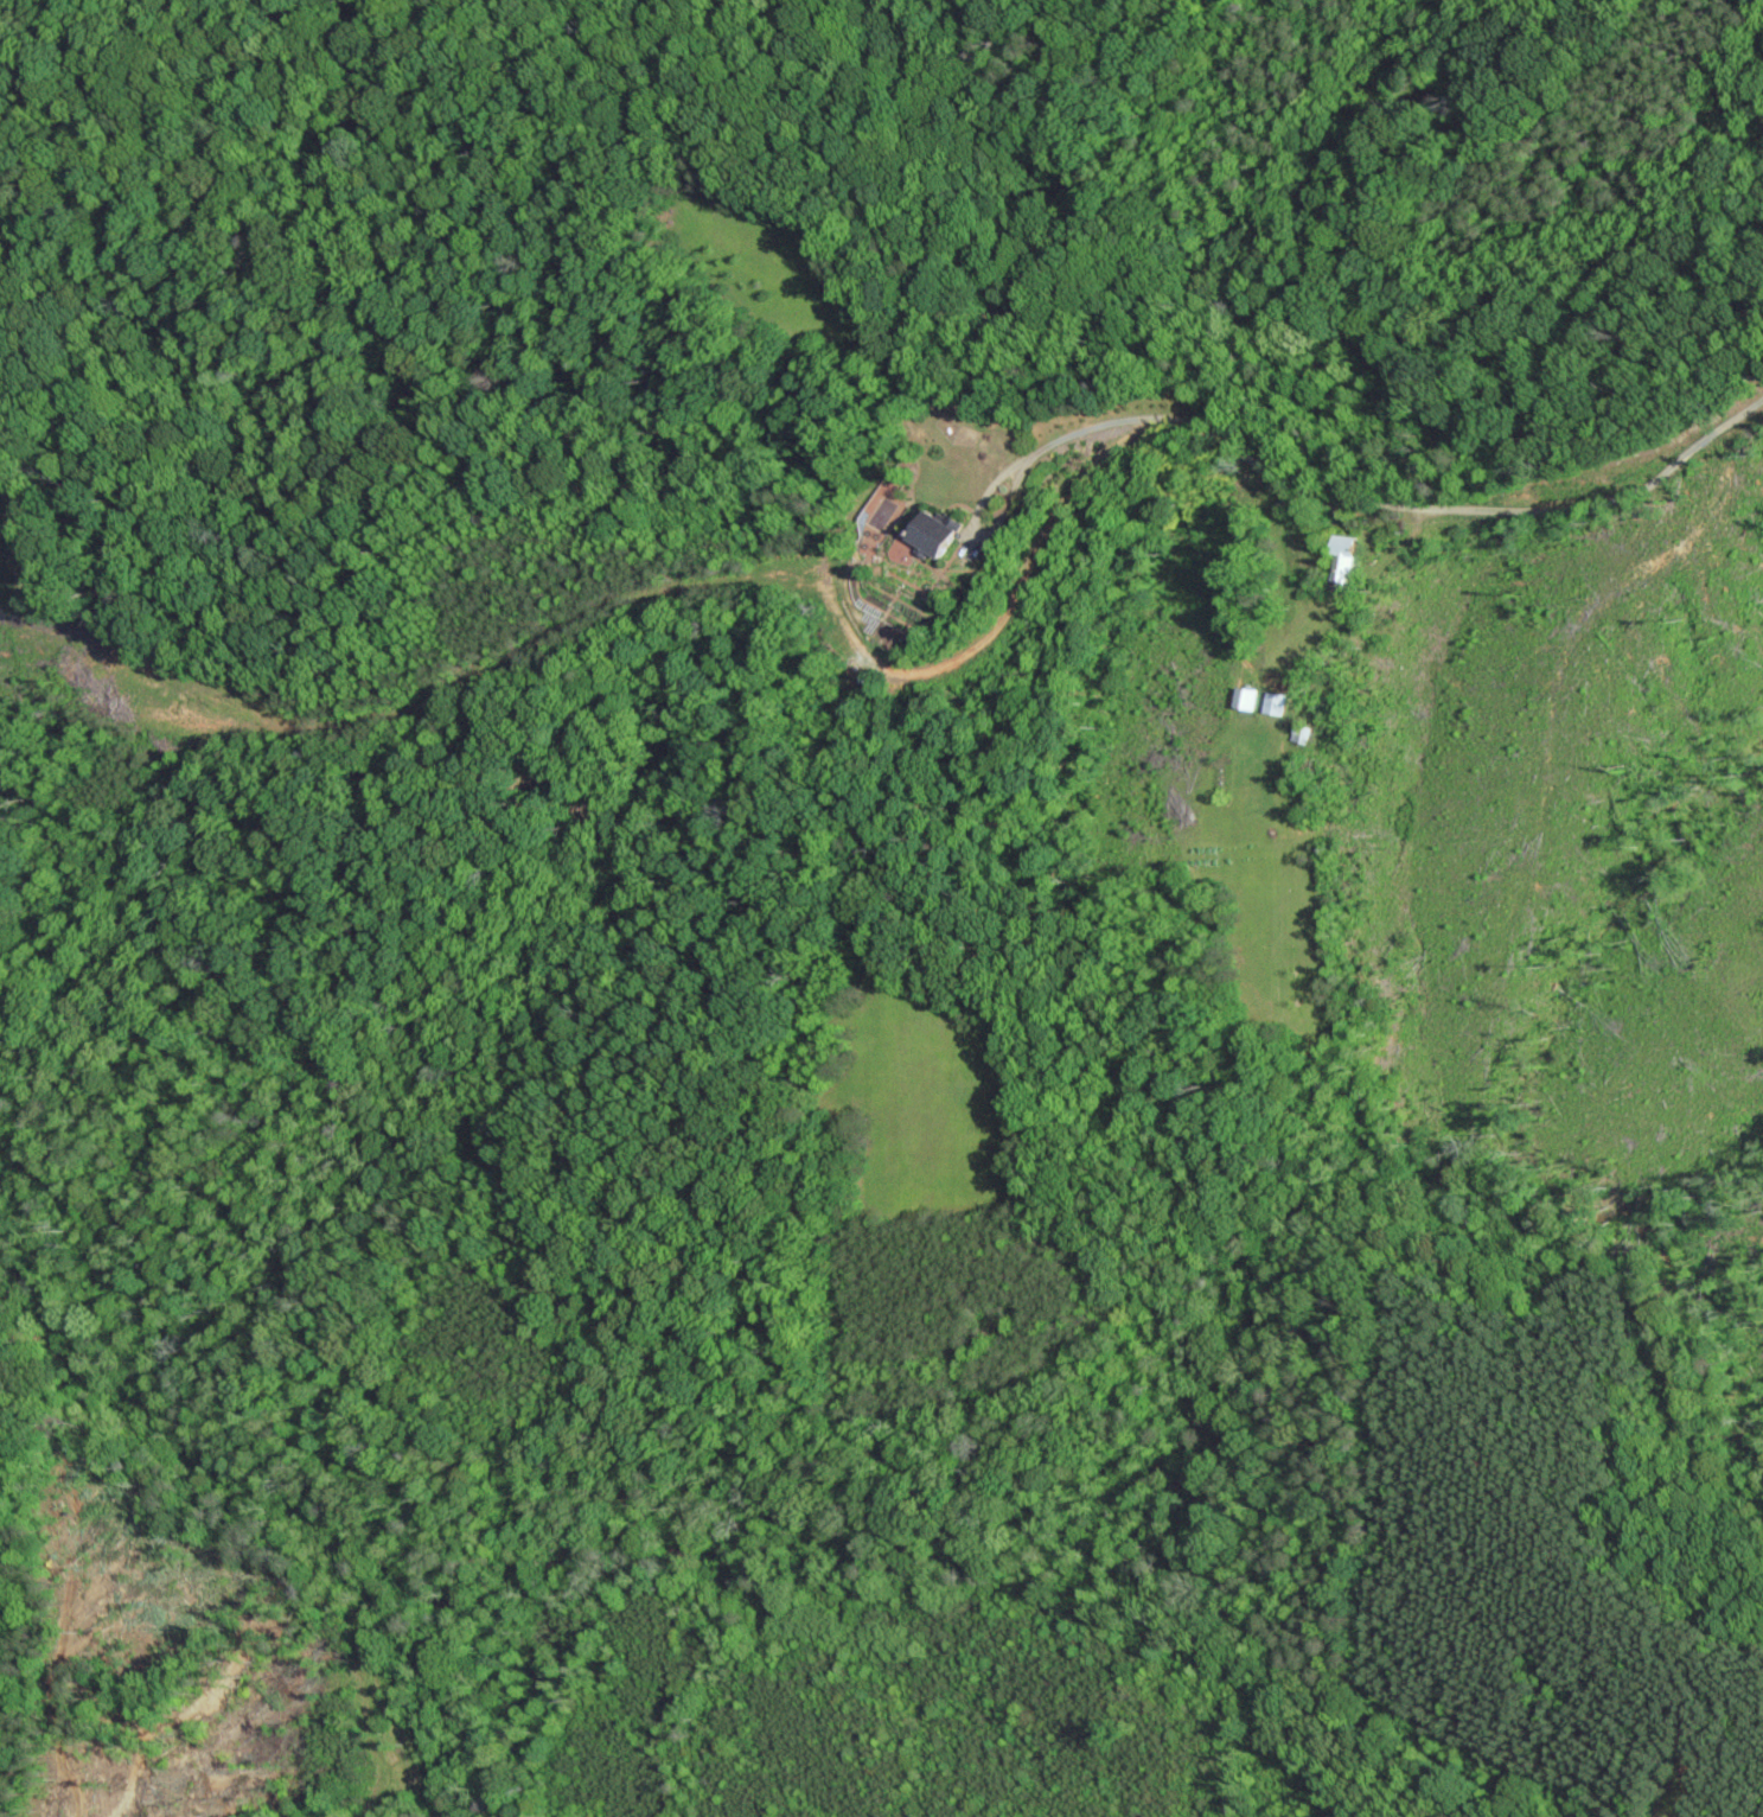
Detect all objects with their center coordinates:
road: (1276, 431)
building: (927, 530)
building: (900, 549)
building: (1339, 555)
building: (1240, 697)
building: (1271, 702)

